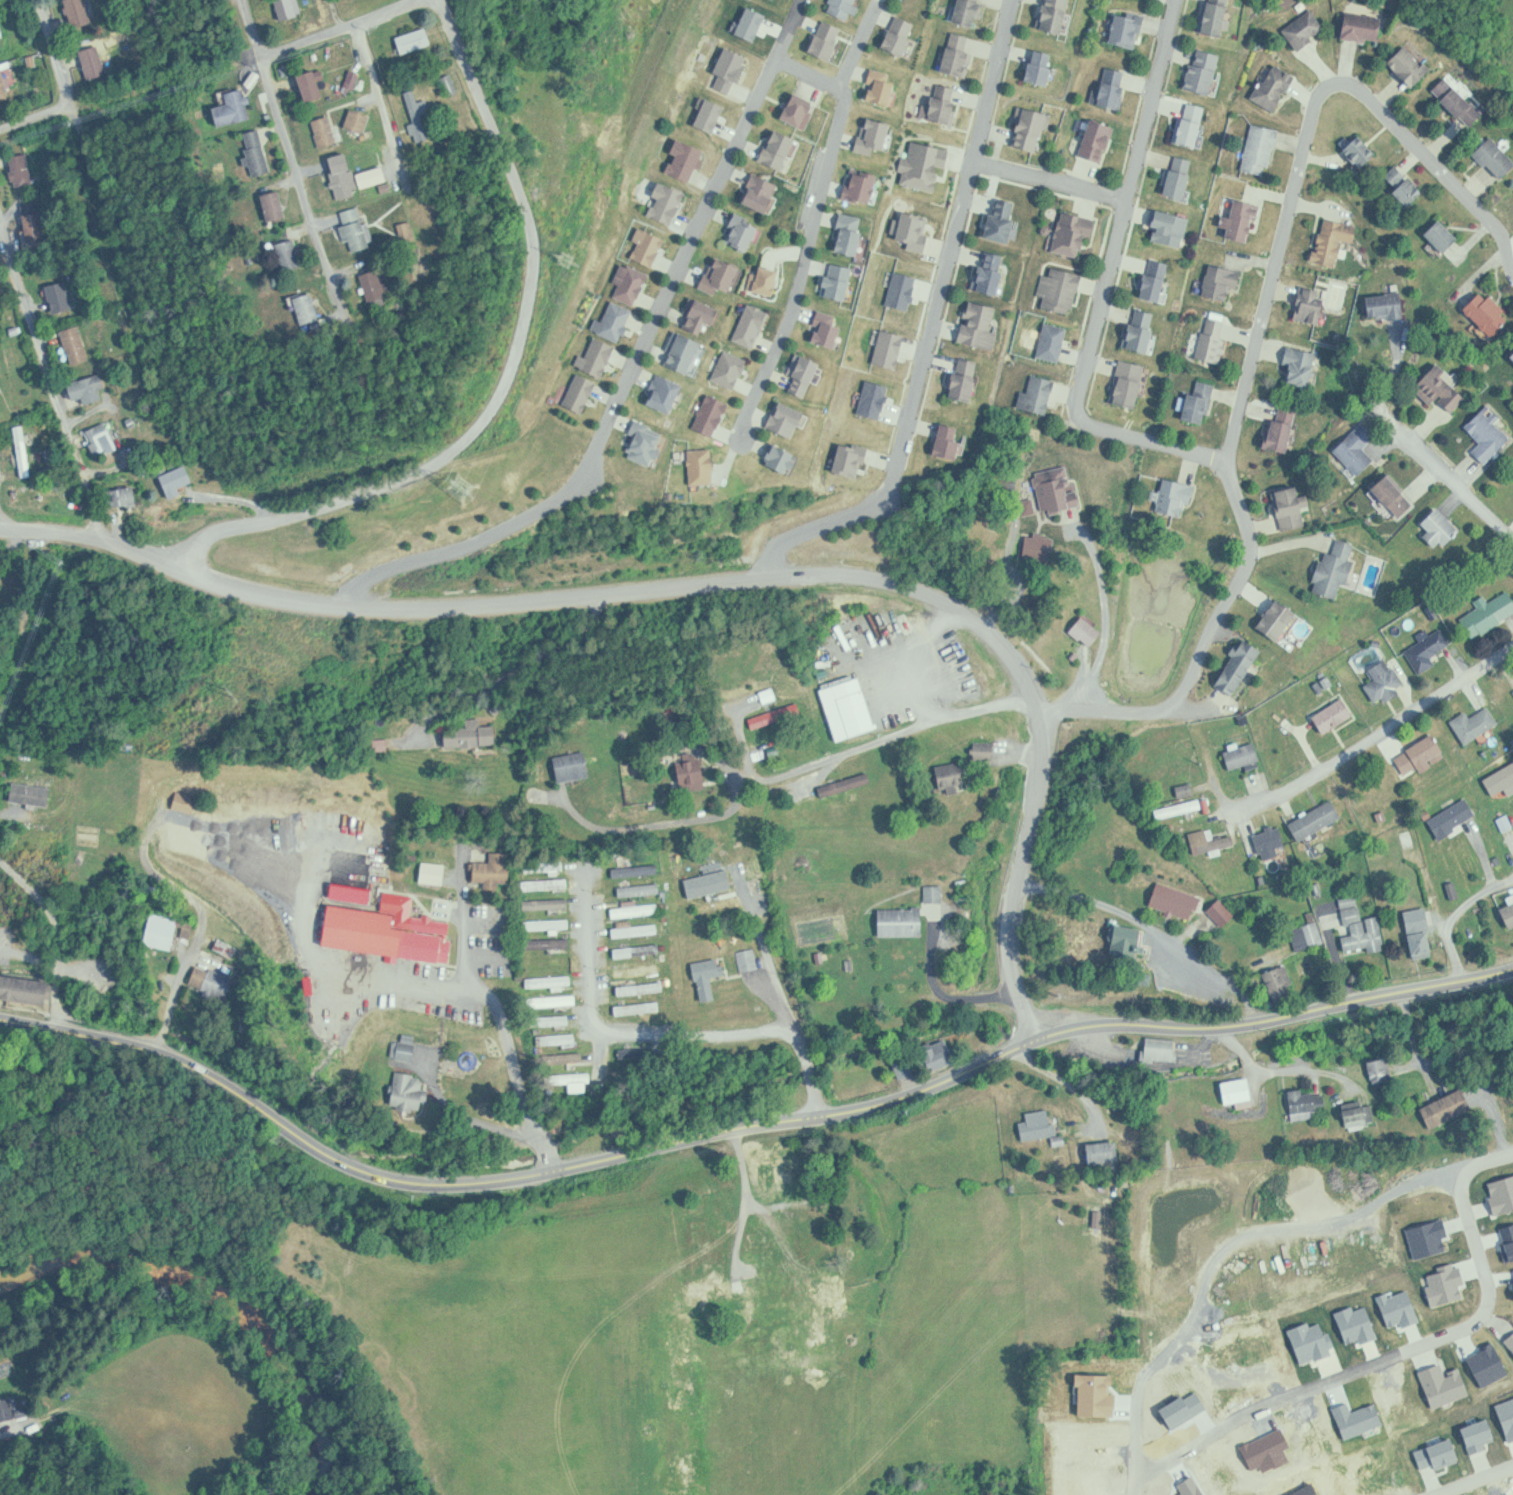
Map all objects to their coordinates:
building: (845, 7)
building: (291, 8)
building: (80, 12)
building: (960, 12)
building: (1057, 16)
building: (1217, 17)
building: (745, 23)
road: (343, 26)
building: (1364, 27)
building: (1306, 28)
building: (1129, 29)
building: (893, 35)
building: (1, 37)
building: (417, 40)
building: (819, 40)
road: (858, 43)
building: (0, 49)
road: (59, 52)
building: (950, 54)
building: (98, 61)
building: (1412, 66)
building: (1034, 67)
building: (723, 69)
building: (1206, 71)
building: (354, 82)
building: (452, 84)
building: (313, 85)
building: (4, 86)
building: (1276, 86)
building: (874, 87)
building: (1116, 88)
road: (384, 101)
building: (1459, 102)
building: (937, 104)
building: (229, 107)
building: (789, 109)
building: (801, 110)
building: (424, 115)
building: (705, 115)
road: (37, 116)
building: (360, 121)
building: (1193, 125)
building: (321, 130)
building: (1034, 130)
building: (867, 135)
building: (1099, 140)
building: (772, 148)
building: (1263, 150)
building: (1362, 152)
building: (252, 155)
building: (1497, 158)
building: (680, 159)
road: (295, 163)
building: (920, 164)
building: (17, 169)
building: (337, 176)
building: (1182, 177)
road: (1049, 178)
building: (854, 185)
building: (1405, 185)
building: (755, 193)
building: (661, 201)
building: (269, 207)
building: (1241, 219)
building: (995, 221)
building: (37, 227)
road: (815, 228)
building: (351, 229)
building: (1173, 229)
building: (907, 230)
building: (410, 231)
building: (735, 232)
building: (843, 233)
building: (1077, 235)
building: (1445, 236)
building: (1336, 241)
building: (643, 246)
building: (292, 254)
building: (983, 273)
building: (714, 276)
building: (993, 278)
building: (759, 280)
building: (1158, 280)
building: (832, 281)
road: (1104, 282)
building: (626, 283)
building: (1224, 283)
building: (379, 287)
building: (1055, 289)
building: (897, 290)
building: (54, 297)
building: (1312, 305)
building: (1388, 305)
building: (301, 308)
building: (1490, 313)
building: (692, 315)
building: (705, 317)
building: (610, 322)
road: (932, 322)
building: (973, 324)
building: (747, 326)
building: (819, 328)
road: (1259, 328)
building: (1143, 330)
building: (1215, 339)
building: (71, 341)
building: (1048, 342)
building: (885, 348)
building: (676, 354)
building: (593, 357)
road: (633, 365)
building: (1302, 367)
building: (726, 369)
road: (1392, 371)
building: (797, 373)
road: (509, 375)
road: (50, 377)
building: (958, 379)
building: (1130, 384)
building: (82, 388)
building: (1443, 389)
building: (575, 393)
building: (658, 393)
building: (1034, 394)
building: (0, 398)
building: (869, 400)
building: (1202, 401)
building: (706, 415)
building: (779, 419)
building: (1284, 429)
building: (1483, 434)
building: (102, 437)
building: (952, 440)
building: (941, 442)
building: (0, 443)
building: (639, 443)
building: (1359, 448)
building: (26, 450)
building: (773, 459)
building: (845, 459)
building: (696, 466)
road: (1447, 472)
building: (171, 480)
building: (1057, 489)
power tower: (462, 491)
building: (1396, 495)
building: (125, 496)
building: (1178, 496)
road: (239, 498)
building: (1293, 506)
building: (1442, 528)
building: (1041, 546)
building: (1336, 569)
road: (712, 581)
building: (1485, 612)
building: (1280, 619)
building: (1089, 630)
building: (1423, 648)
building: (1240, 666)
road: (517, 672)
building: (1380, 684)
building: (1511, 693)
building: (851, 707)
building: (776, 715)
building: (1328, 716)
building: (1470, 724)
road: (1381, 731)
building: (474, 733)
road: (865, 747)
building: (1237, 754)
building: (1418, 755)
building: (575, 765)
building: (692, 773)
building: (954, 775)
building: (1503, 778)
building: (847, 784)
road: (1219, 786)
building: (1187, 790)
building: (34, 793)
building: (187, 802)
building: (1181, 808)
building: (240, 816)
building: (1448, 818)
building: (1310, 820)
road: (660, 823)
building: (1203, 841)
building: (1265, 842)
building: (547, 866)
building: (494, 871)
building: (436, 872)
building: (711, 883)
building: (549, 885)
building: (641, 889)
building: (936, 893)
building: (1176, 900)
building: (551, 903)
building: (638, 910)
building: (1223, 912)
building: (1509, 912)
road: (206, 918)
road: (466, 918)
building: (903, 921)
building: (550, 924)
road: (61, 928)
building: (1363, 928)
building: (170, 929)
building: (637, 929)
building: (1309, 935)
building: (430, 939)
building: (1130, 941)
building: (1422, 943)
building: (639, 950)
building: (751, 959)
building: (639, 970)
building: (308, 971)
road: (592, 973)
building: (711, 976)
building: (215, 977)
building: (552, 981)
building: (1282, 982)
building: (643, 987)
building: (25, 989)
road: (946, 992)
building: (557, 1000)
building: (639, 1007)
building: (559, 1019)
road: (695, 1035)
building: (561, 1038)
road: (802, 1041)
building: (409, 1049)
building: (1161, 1049)
building: (940, 1055)
building: (569, 1057)
road: (1469, 1061)
building: (906, 1067)
building: (1382, 1069)
road: (518, 1070)
road: (1321, 1070)
road: (1061, 1077)
building: (578, 1080)
building: (412, 1090)
building: (1239, 1090)
building: (1308, 1103)
building: (1453, 1105)
building: (1359, 1115)
building: (1038, 1125)
road: (745, 1127)
building: (1105, 1151)
building: (777, 1174)
building: (1499, 1195)
building: (1427, 1239)
building: (1506, 1241)
building: (1487, 1255)
building: (1457, 1257)
building: (1434, 1260)
building: (1339, 1268)
building: (1368, 1268)
building: (1512, 1271)
building: (1274, 1273)
building: (1186, 1278)
building: (1248, 1281)
building: (1442, 1284)
building: (1511, 1288)
building: (833, 1291)
building: (1510, 1298)
building: (731, 1299)
river: (221, 1304)
building: (1449, 1308)
building: (1396, 1309)
building: (1496, 1311)
building: (1352, 1324)
building: (1274, 1328)
building: (1244, 1331)
building: (1207, 1332)
building: (1180, 1338)
building: (1508, 1339)
building: (1308, 1342)
road: (1405, 1352)
building: (1483, 1364)
building: (1441, 1384)
building: (1500, 1386)
building: (1470, 1388)
building: (1088, 1394)
building: (1414, 1400)
building: (1381, 1402)
building: (1295, 1406)
building: (1322, 1406)
building: (1180, 1408)
building: (6, 1412)
building: (1261, 1412)
building: (1204, 1415)
building: (1232, 1416)
building: (1504, 1417)
building: (1354, 1418)
building: (1139, 1424)
building: (1311, 1432)
building: (1473, 1433)
building: (1264, 1450)
building: (1416, 1454)
building: (1433, 1454)
building: (1479, 1458)
building: (1388, 1460)
building: (1329, 1464)
building: (1358, 1465)
building: (1240, 1473)
building: (1270, 1473)
building: (1204, 1475)
building: (1172, 1477)
building: (1141, 1479)
road: (1473, 1480)
building: (1187, 1486)
building: (686, 1489)
building: (1302, 1490)
building: (1506, 1494)

